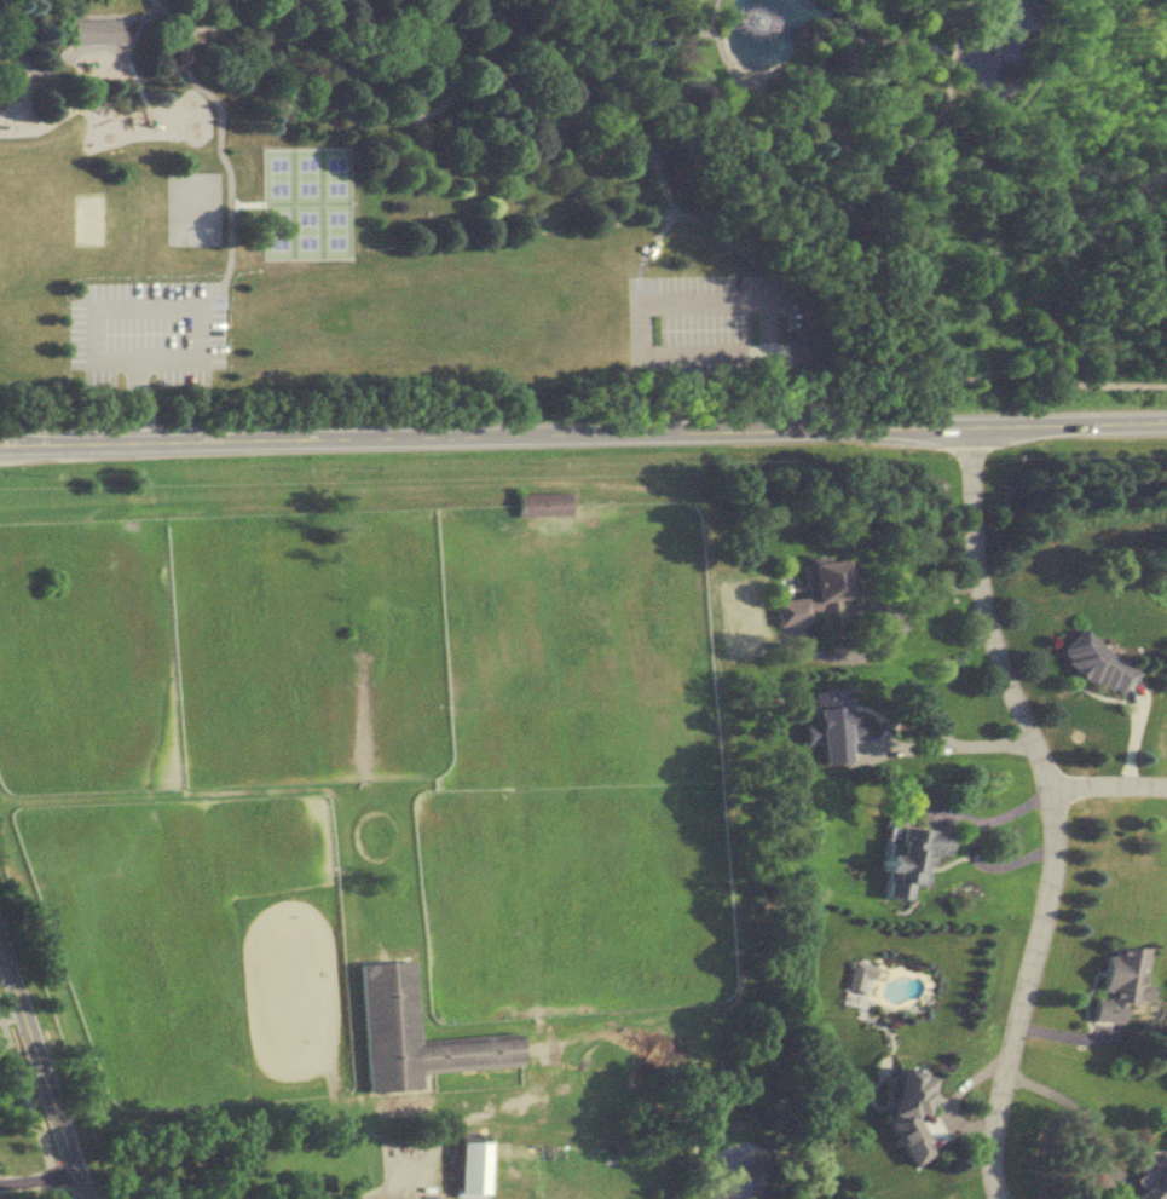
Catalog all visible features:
road: (245, 10)
road: (701, 13)
road: (80, 15)
road: (949, 19)
fountain: (766, 23)
building: (97, 30)
road: (358, 36)
road: (952, 52)
road: (67, 54)
road: (157, 73)
road: (7, 74)
road: (133, 79)
road: (793, 109)
road: (941, 109)
road: (389, 113)
road: (1005, 119)
road: (703, 120)
road: (907, 161)
road: (224, 162)
road: (657, 166)
park: (284, 198)
park: (330, 198)
park: (191, 207)
park: (576, 208)
park: (86, 217)
road: (763, 270)
road: (88, 307)
parking lot: (715, 325)
road: (641, 327)
parking lot: (145, 330)
road: (768, 362)
road: (966, 377)
road: (134, 398)
road: (583, 434)
road: (179, 474)
building: (541, 503)
building: (813, 592)
road: (924, 601)
building: (1093, 663)
road: (965, 740)
road: (1107, 785)
road: (1048, 809)
road: (971, 841)
building: (909, 858)
building: (1115, 984)
building: (410, 1034)
road: (44, 1068)
road: (31, 1111)
building: (907, 1112)
building: (472, 1169)
building: (1154, 1177)
road: (39, 1178)
road: (389, 1193)
road: (271, 1195)

